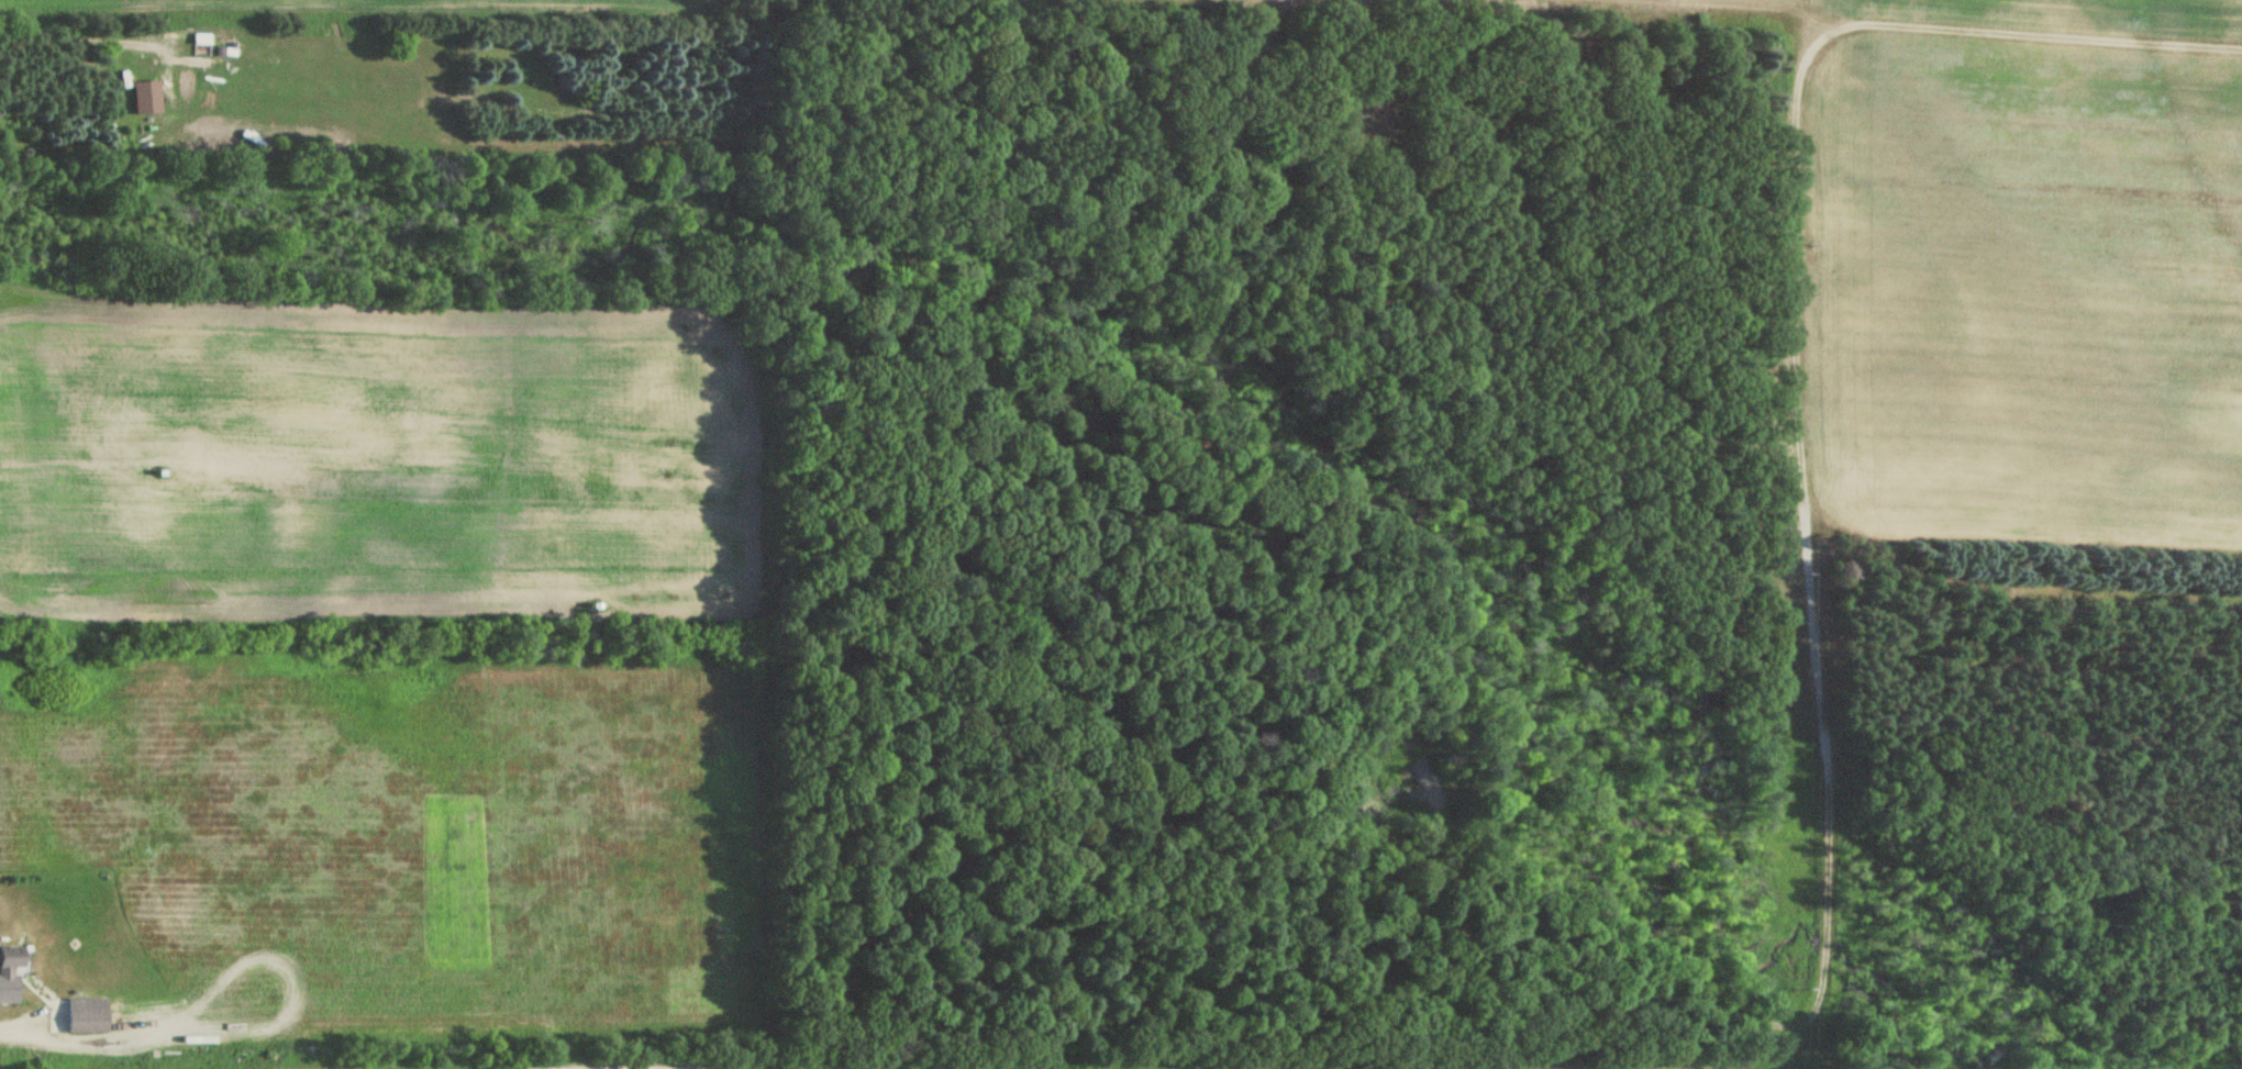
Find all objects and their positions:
building: (169, 80)
building: (8, 982)
building: (87, 1017)
road: (20, 1028)

